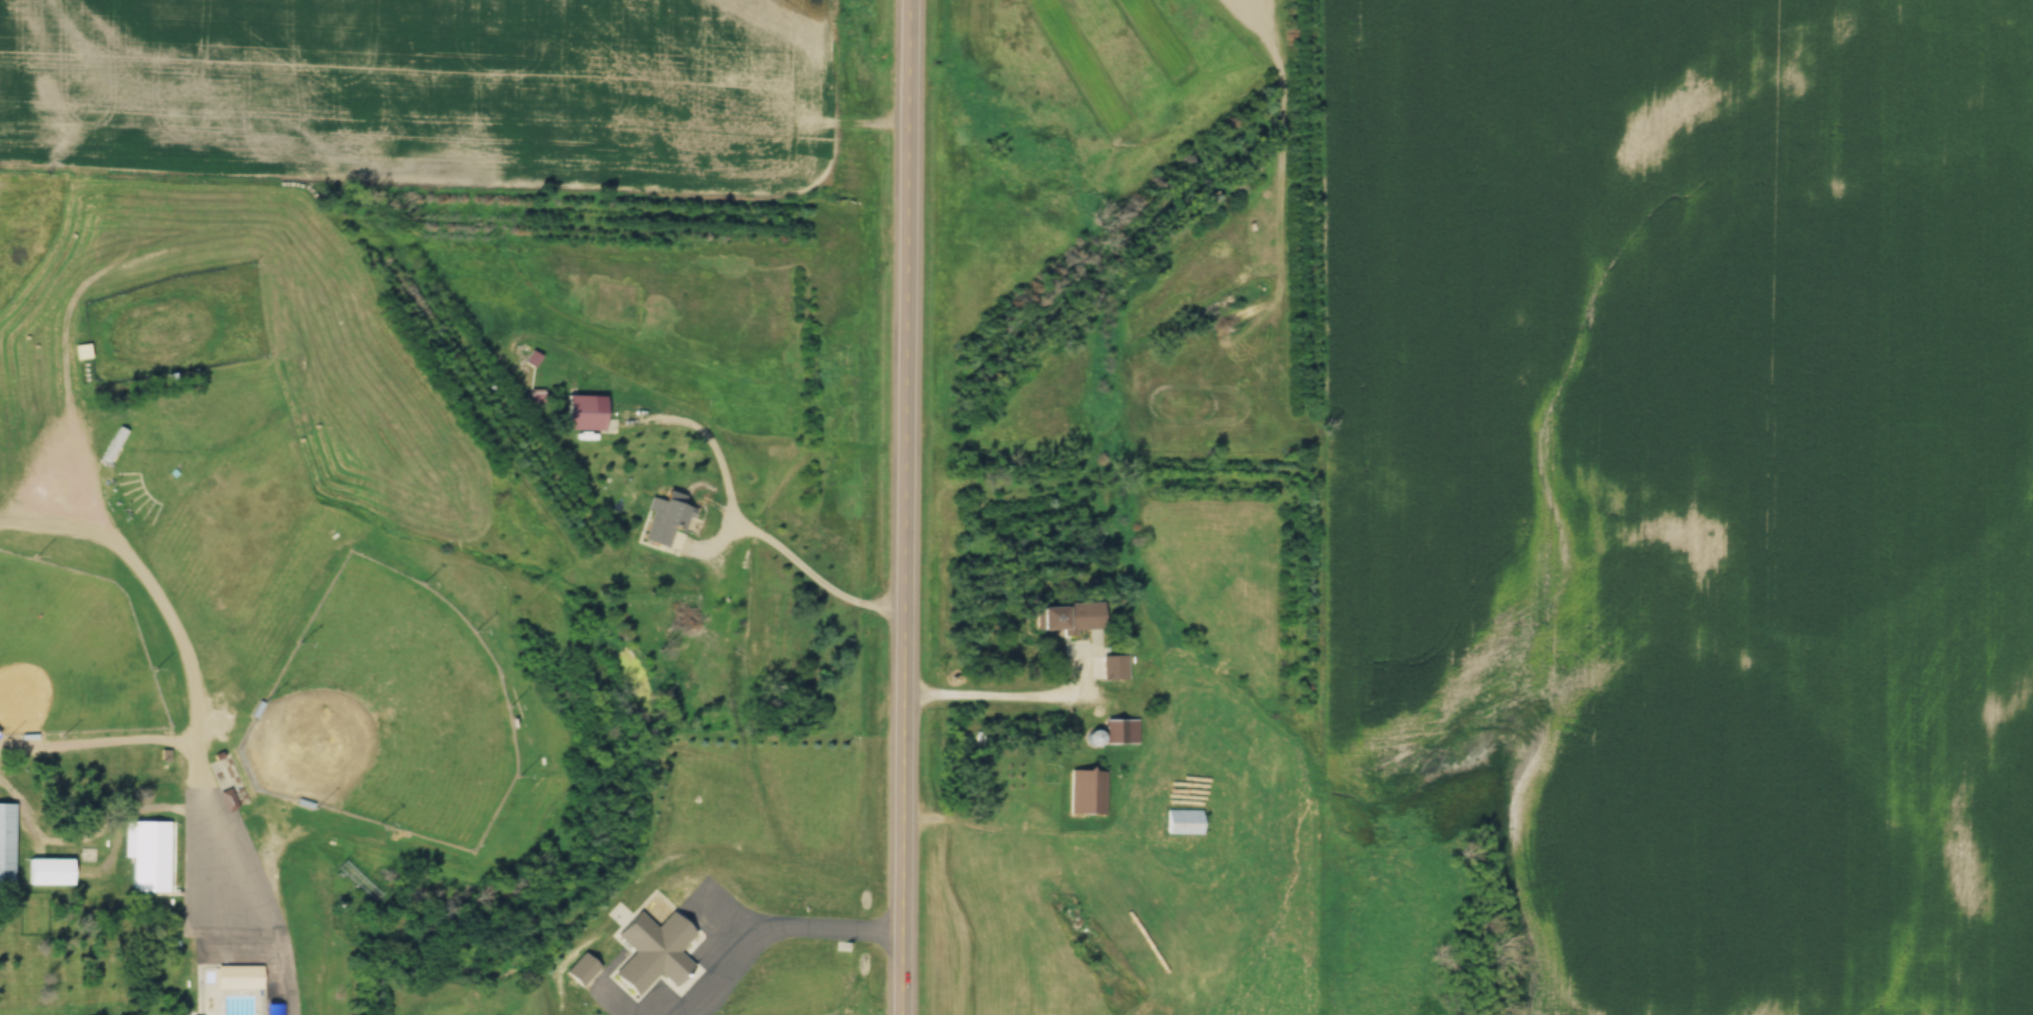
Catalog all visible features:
building: (82, 352)
building: (581, 412)
building: (114, 442)
road: (905, 507)
building: (656, 521)
road: (803, 562)
building: (1066, 617)
park: (71, 652)
building: (1112, 667)
road: (1012, 696)
park: (382, 711)
road: (196, 720)
building: (1120, 731)
building: (1088, 790)
building: (1185, 822)
building: (8, 842)
building: (149, 856)
building: (53, 869)
road: (808, 930)
building: (655, 954)
building: (242, 976)

